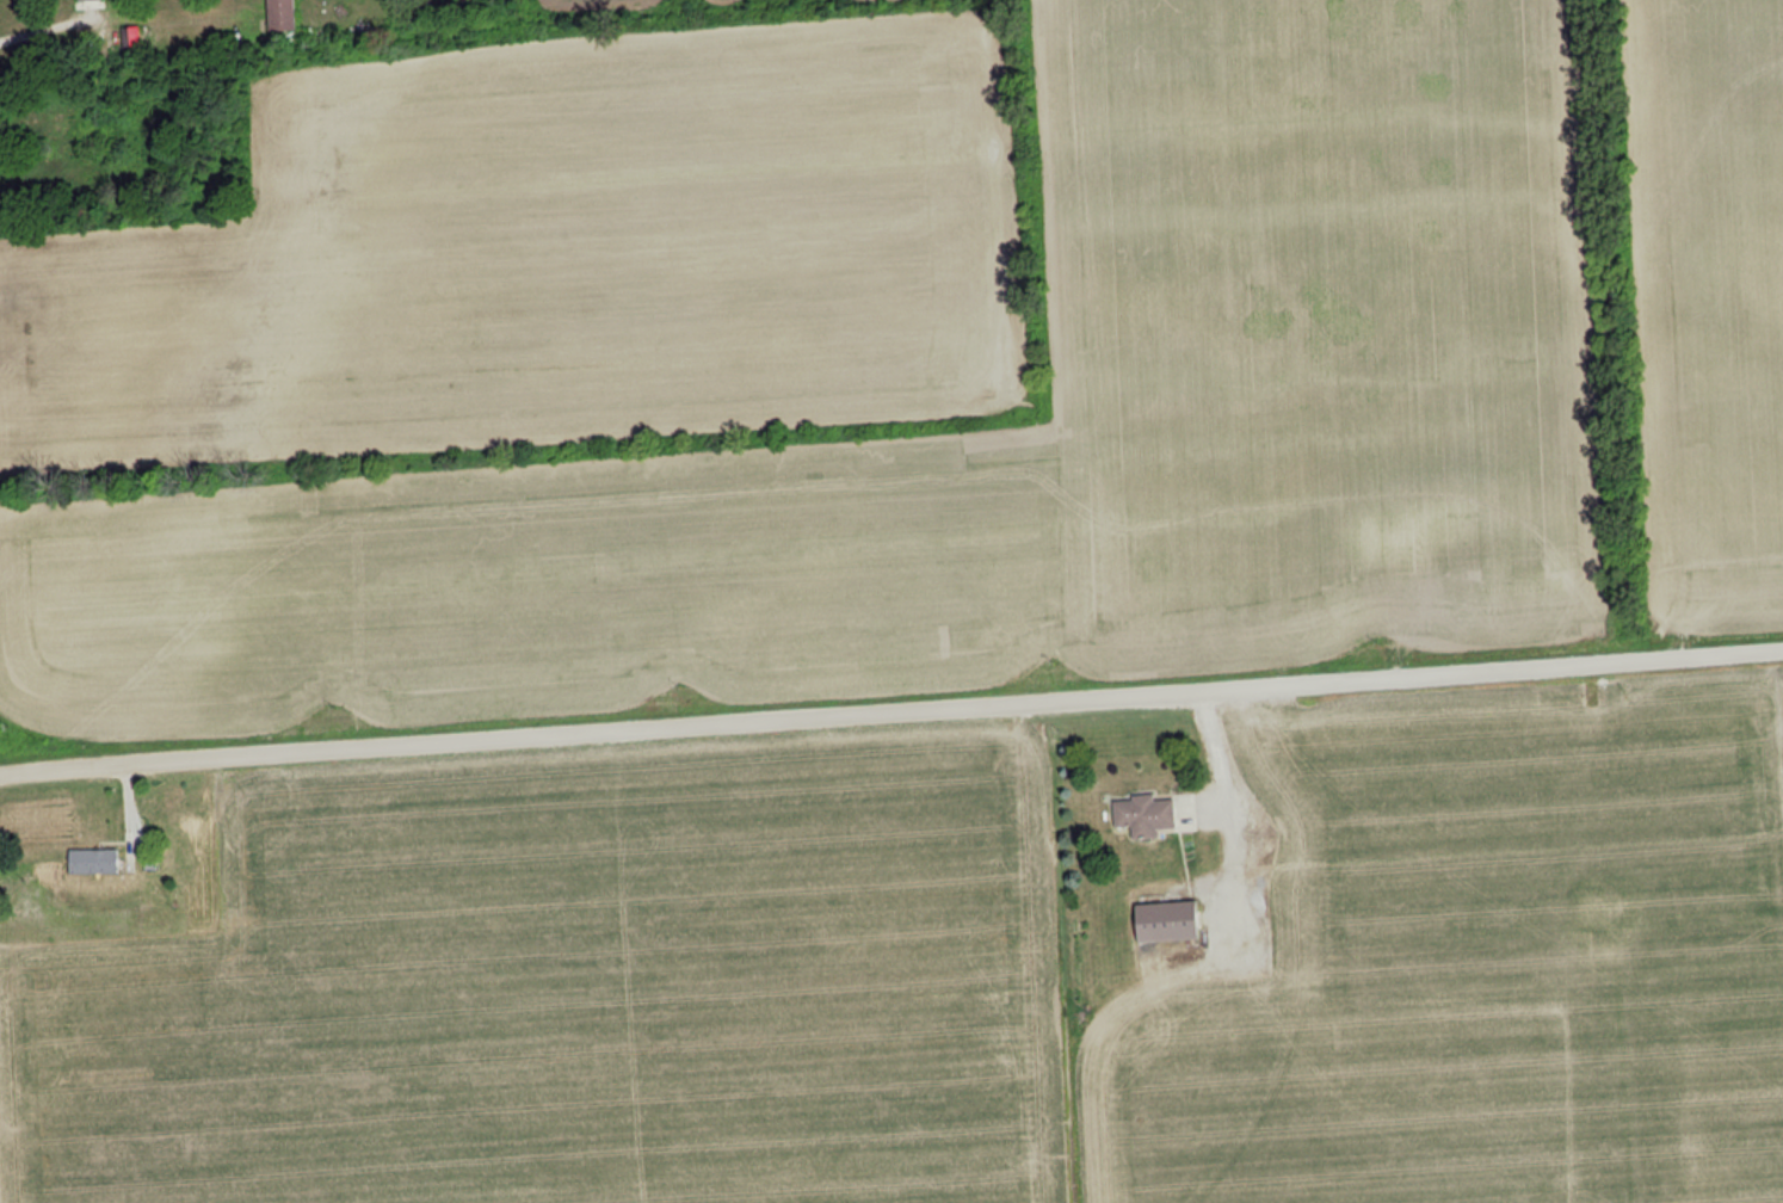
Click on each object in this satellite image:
building: (279, 14)
road: (43, 26)
building: (131, 36)
road: (890, 710)
building: (1143, 815)
road: (1227, 819)
building: (92, 860)
building: (1165, 920)

